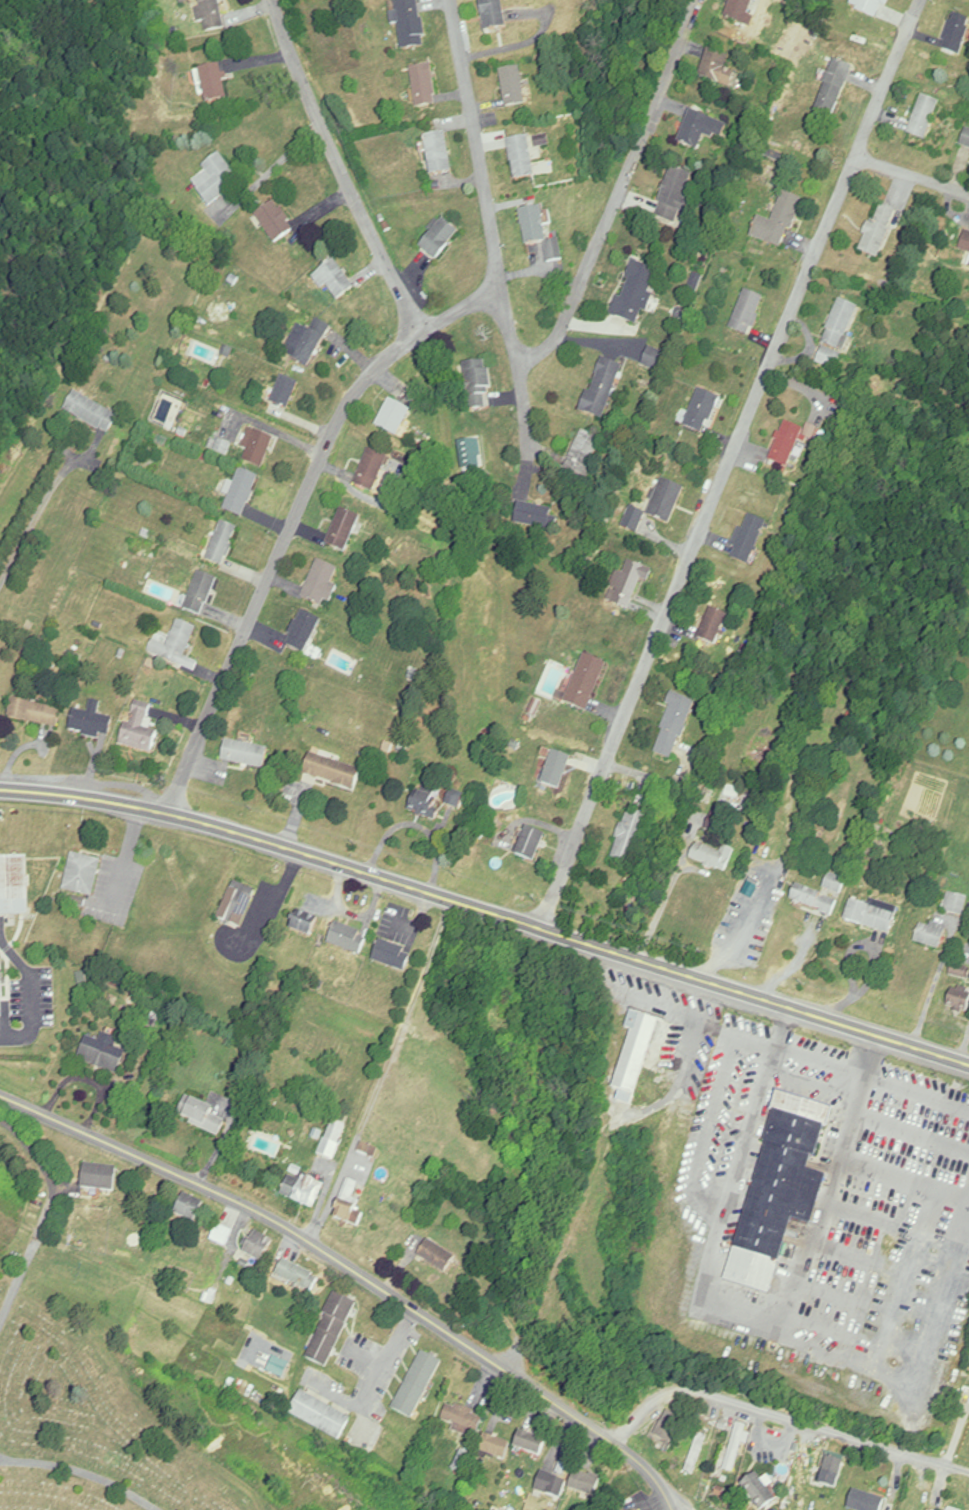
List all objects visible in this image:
building: (870, 7)
building: (740, 11)
building: (493, 14)
building: (211, 15)
building: (409, 23)
building: (956, 35)
road: (525, 39)
building: (717, 69)
building: (213, 85)
building: (424, 85)
building: (512, 87)
building: (833, 90)
building: (924, 118)
building: (701, 131)
building: (965, 143)
building: (438, 153)
building: (521, 158)
road: (272, 167)
road: (342, 168)
road: (913, 174)
building: (216, 180)
building: (676, 196)
road: (609, 220)
building: (779, 222)
building: (275, 223)
building: (878, 230)
building: (539, 233)
building: (439, 239)
building: (965, 242)
building: (333, 280)
building: (636, 294)
building: (747, 313)
building: (837, 334)
building: (307, 342)
building: (654, 358)
building: (476, 386)
road: (361, 388)
building: (602, 388)
building: (285, 394)
road: (526, 403)
building: (702, 412)
building: (91, 414)
building: (393, 418)
building: (786, 445)
building: (257, 448)
building: (583, 456)
road: (729, 464)
building: (371, 471)
building: (241, 493)
building: (657, 507)
road: (37, 515)
building: (534, 517)
building: (342, 531)
building: (748, 542)
building: (222, 544)
building: (321, 585)
building: (628, 585)
building: (198, 595)
building: (712, 627)
building: (303, 632)
building: (175, 644)
building: (585, 683)
building: (33, 714)
building: (91, 723)
building: (674, 727)
building: (139, 729)
building: (245, 755)
building: (557, 771)
building: (332, 773)
road: (656, 781)
building: (424, 808)
building: (631, 837)
building: (530, 845)
building: (707, 856)
building: (80, 875)
building: (13, 885)
building: (110, 892)
building: (820, 896)
road: (275, 898)
building: (956, 904)
building: (237, 905)
road: (487, 911)
road: (657, 912)
building: (872, 916)
building: (302, 923)
road: (803, 927)
building: (931, 936)
building: (347, 937)
building: (392, 955)
building: (960, 973)
building: (0, 978)
road: (933, 987)
road: (32, 995)
building: (959, 1001)
building: (102, 1053)
building: (641, 1053)
road: (808, 1060)
building: (200, 1115)
building: (332, 1139)
road: (36, 1151)
building: (98, 1175)
building: (302, 1189)
building: (781, 1189)
building: (348, 1205)
building: (188, 1207)
building: (221, 1235)
building: (257, 1246)
building: (436, 1255)
road: (28, 1259)
road: (357, 1272)
building: (297, 1276)
building: (330, 1329)
road: (376, 1382)
building: (415, 1383)
building: (319, 1414)
road: (784, 1416)
building: (461, 1419)
park: (94, 1423)
building: (669, 1425)
building: (530, 1443)
building: (736, 1446)
building: (494, 1447)
building: (698, 1449)
road: (1, 1459)
building: (834, 1467)
road: (83, 1472)
building: (584, 1483)
building: (550, 1484)
building: (761, 1489)
building: (865, 1501)
road: (678, 1509)

